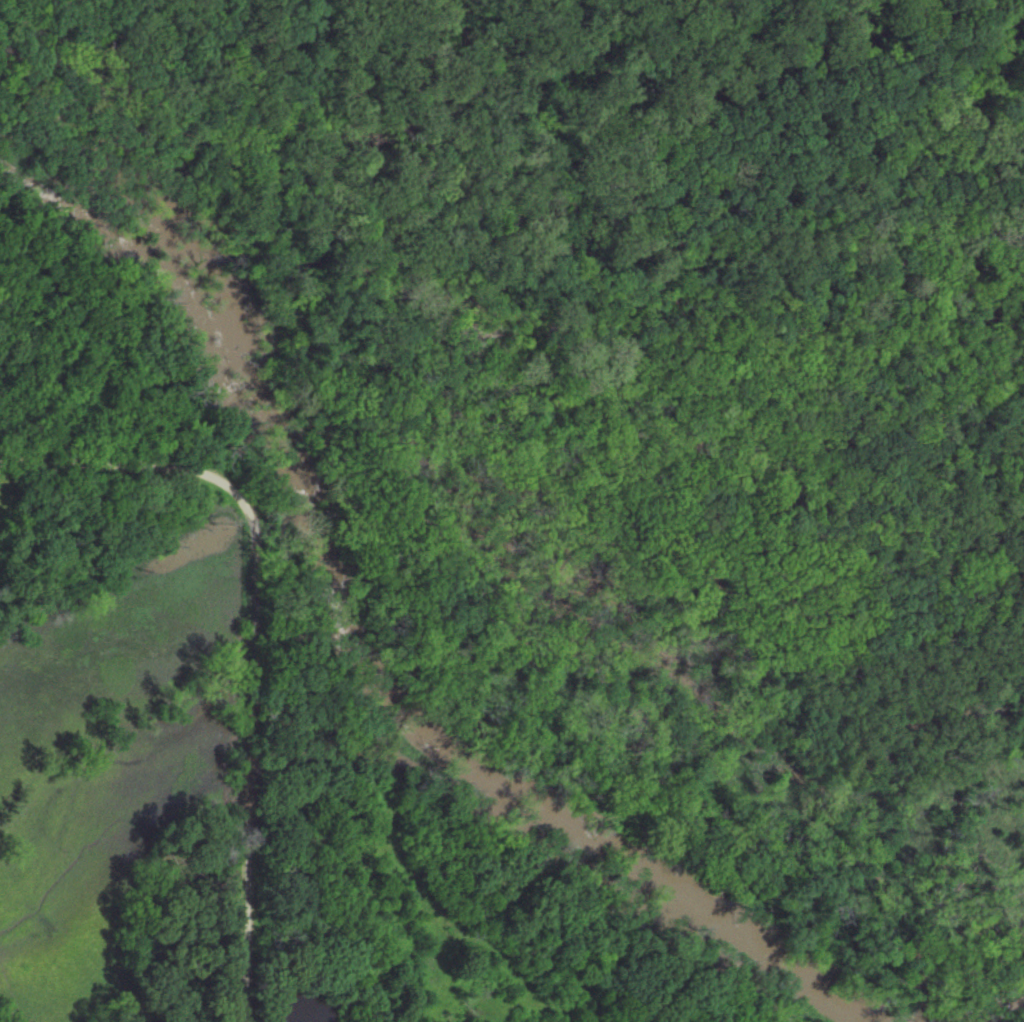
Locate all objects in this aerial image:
road: (122, 468)
road: (248, 756)

